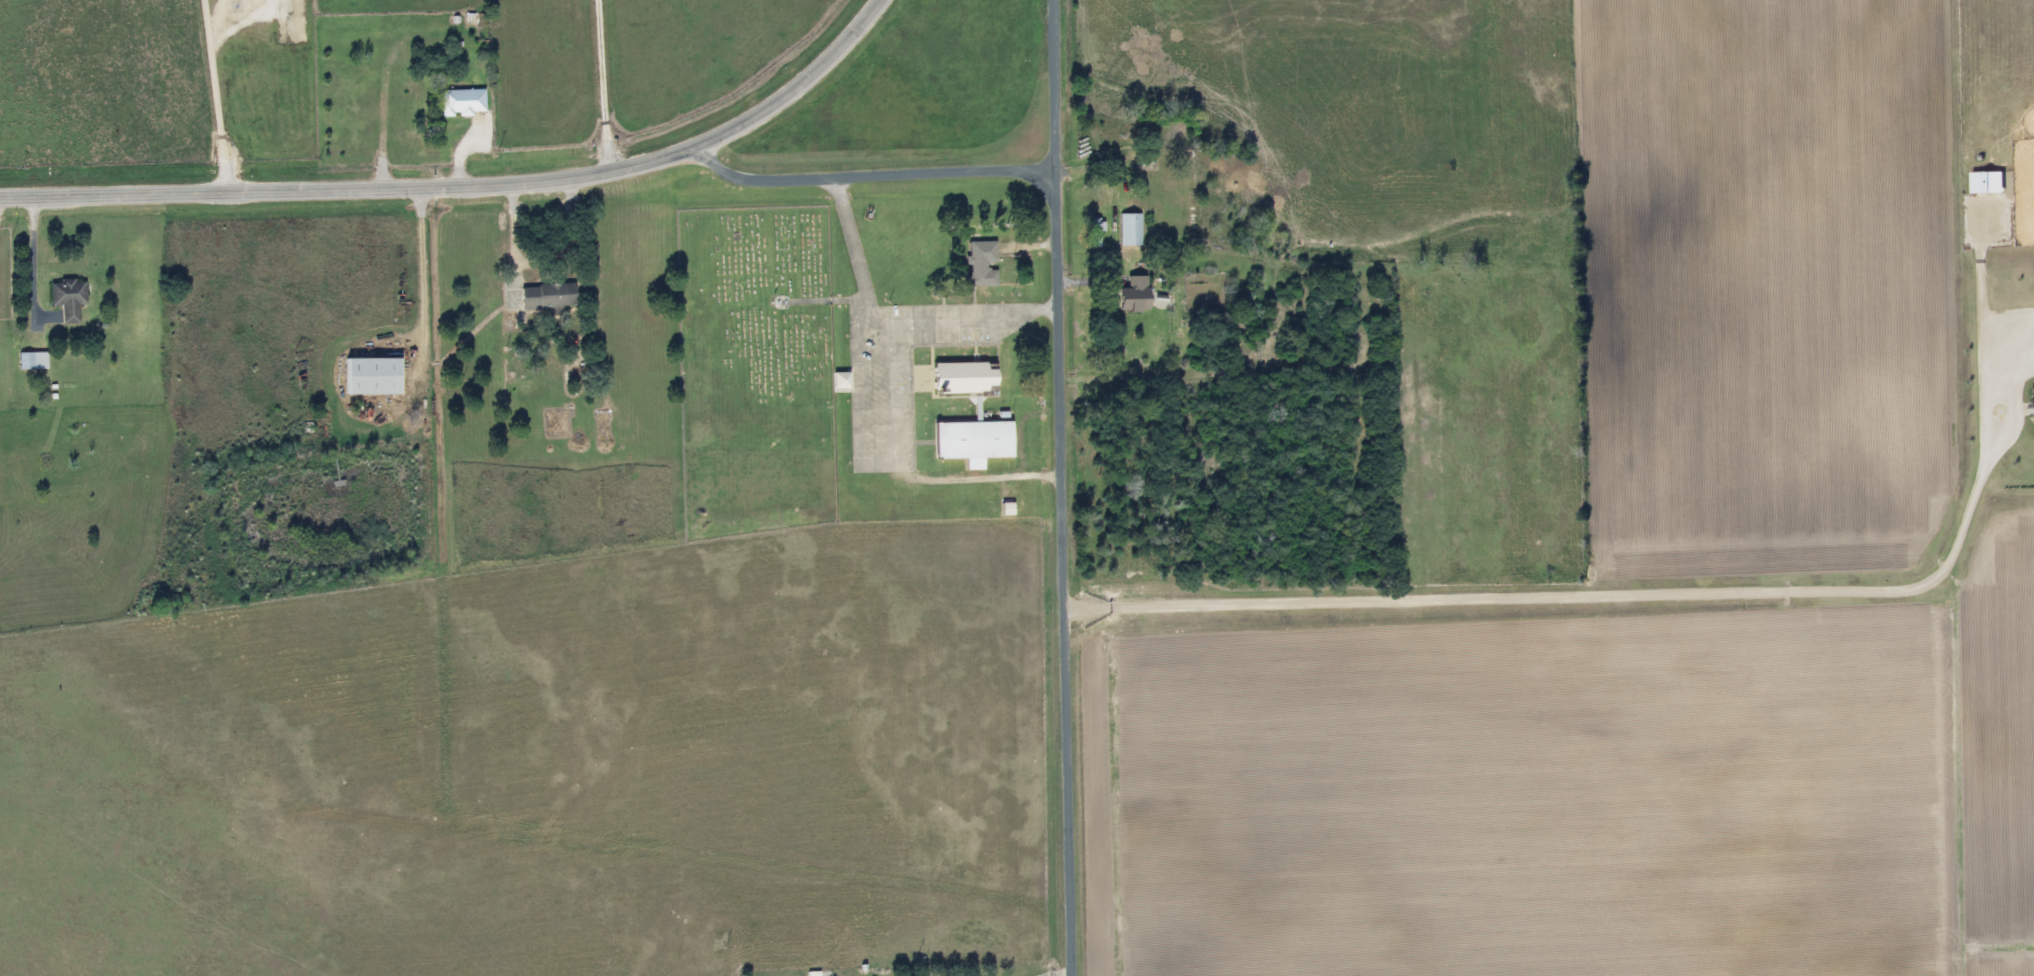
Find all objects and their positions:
road: (601, 85)
road: (214, 96)
building: (461, 102)
building: (1109, 134)
road: (458, 156)
road: (868, 176)
road: (468, 187)
building: (1129, 229)
road: (512, 239)
road: (564, 239)
road: (851, 251)
road: (31, 260)
building: (979, 263)
road: (419, 278)
building: (1132, 295)
building: (546, 298)
building: (66, 299)
road: (823, 301)
road: (955, 322)
park: (753, 323)
building: (30, 361)
parking lot: (898, 372)
building: (370, 376)
building: (963, 378)
building: (599, 418)
building: (973, 442)
road: (875, 462)
road: (1057, 487)
road: (1592, 598)

